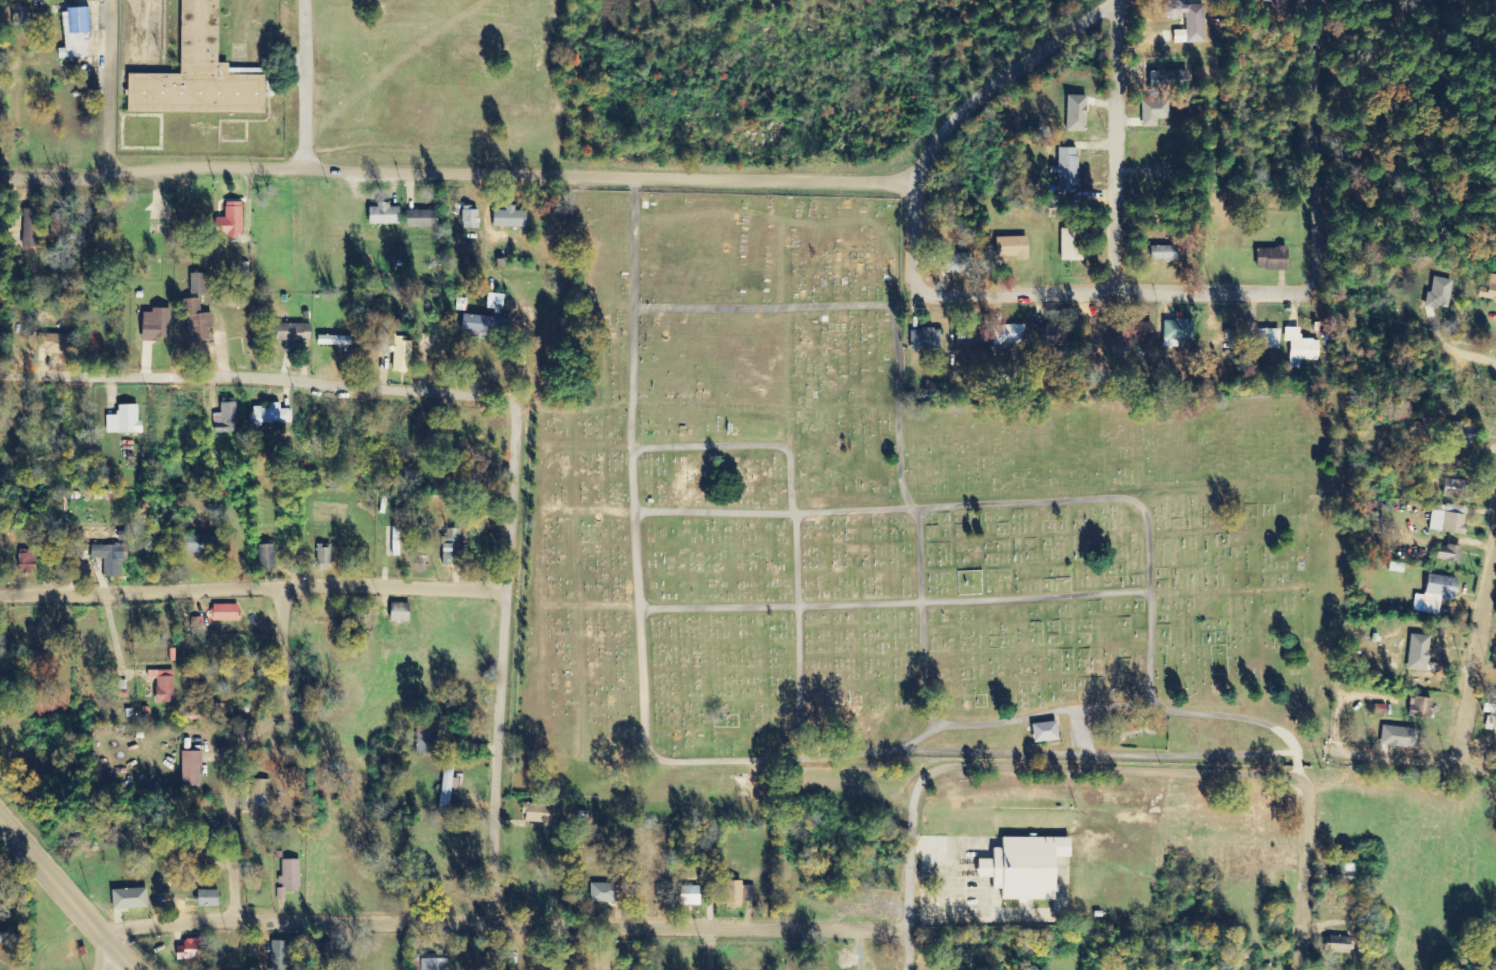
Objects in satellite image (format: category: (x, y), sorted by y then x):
building: (22, 15)
building: (1185, 21)
building: (78, 33)
building: (201, 74)
road: (1000, 78)
building: (1165, 80)
road: (303, 87)
road: (105, 89)
building: (1150, 112)
building: (1072, 113)
road: (1115, 147)
road: (1362, 168)
building: (1064, 170)
road: (459, 176)
building: (386, 215)
building: (511, 218)
building: (424, 219)
building: (471, 219)
building: (232, 221)
building: (57, 225)
building: (32, 229)
building: (1009, 248)
building: (1161, 253)
building: (1268, 259)
building: (952, 263)
building: (199, 284)
building: (1487, 290)
road: (1055, 294)
building: (1437, 294)
building: (497, 304)
building: (159, 325)
building: (484, 325)
building: (1134, 331)
building: (294, 332)
building: (1176, 332)
building: (1007, 335)
building: (1048, 335)
building: (968, 336)
building: (1264, 338)
building: (923, 339)
building: (337, 341)
building: (55, 344)
building: (1300, 348)
building: (398, 351)
road: (1456, 353)
building: (998, 375)
road: (257, 381)
building: (271, 415)
building: (228, 419)
building: (126, 421)
building: (1457, 433)
building: (1447, 487)
building: (1445, 519)
building: (92, 528)
park: (892, 530)
building: (396, 542)
building: (201, 544)
building: (452, 546)
building: (1445, 553)
building: (324, 555)
building: (267, 557)
building: (112, 558)
building: (28, 561)
road: (252, 591)
building: (1433, 594)
building: (402, 612)
building: (227, 613)
road: (1476, 648)
building: (1415, 653)
road: (500, 662)
building: (165, 686)
building: (1419, 708)
building: (1487, 710)
building: (1040, 732)
building: (1395, 737)
building: (427, 740)
road: (242, 747)
road: (1308, 754)
road: (1408, 761)
road: (711, 762)
building: (192, 769)
road: (1115, 772)
building: (448, 788)
building: (541, 814)
road: (909, 861)
building: (1020, 868)
road: (1303, 869)
building: (290, 879)
building: (608, 893)
road: (62, 894)
building: (740, 894)
building: (690, 896)
building: (132, 899)
building: (210, 899)
road: (498, 922)
building: (1333, 945)
road: (710, 949)
building: (192, 951)
building: (280, 955)
building: (959, 960)
road: (102, 964)
building: (436, 965)

